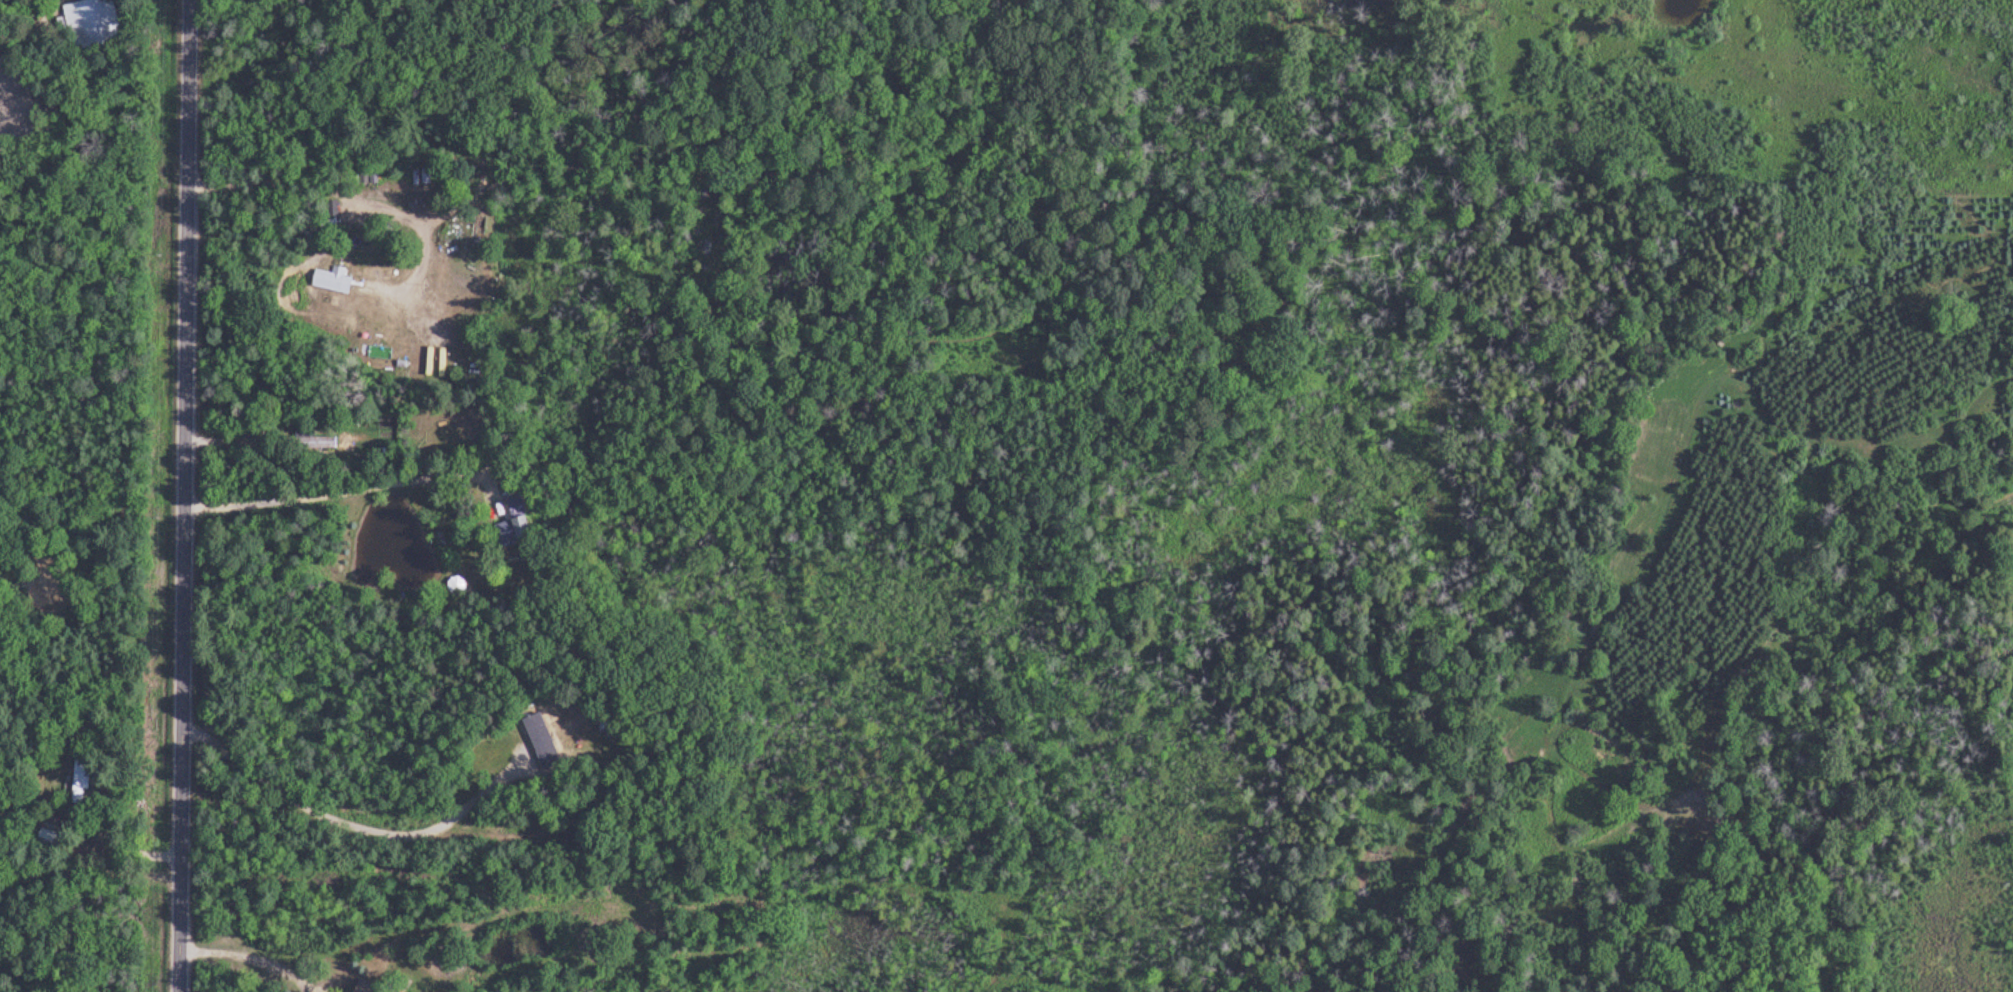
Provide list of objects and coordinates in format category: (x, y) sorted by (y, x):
building: (94, 24)
road: (361, 203)
building: (461, 269)
building: (336, 280)
building: (314, 439)
road: (349, 490)
road: (186, 496)
building: (517, 524)
building: (545, 741)
building: (85, 778)
road: (348, 818)
building: (53, 839)
road: (247, 959)

